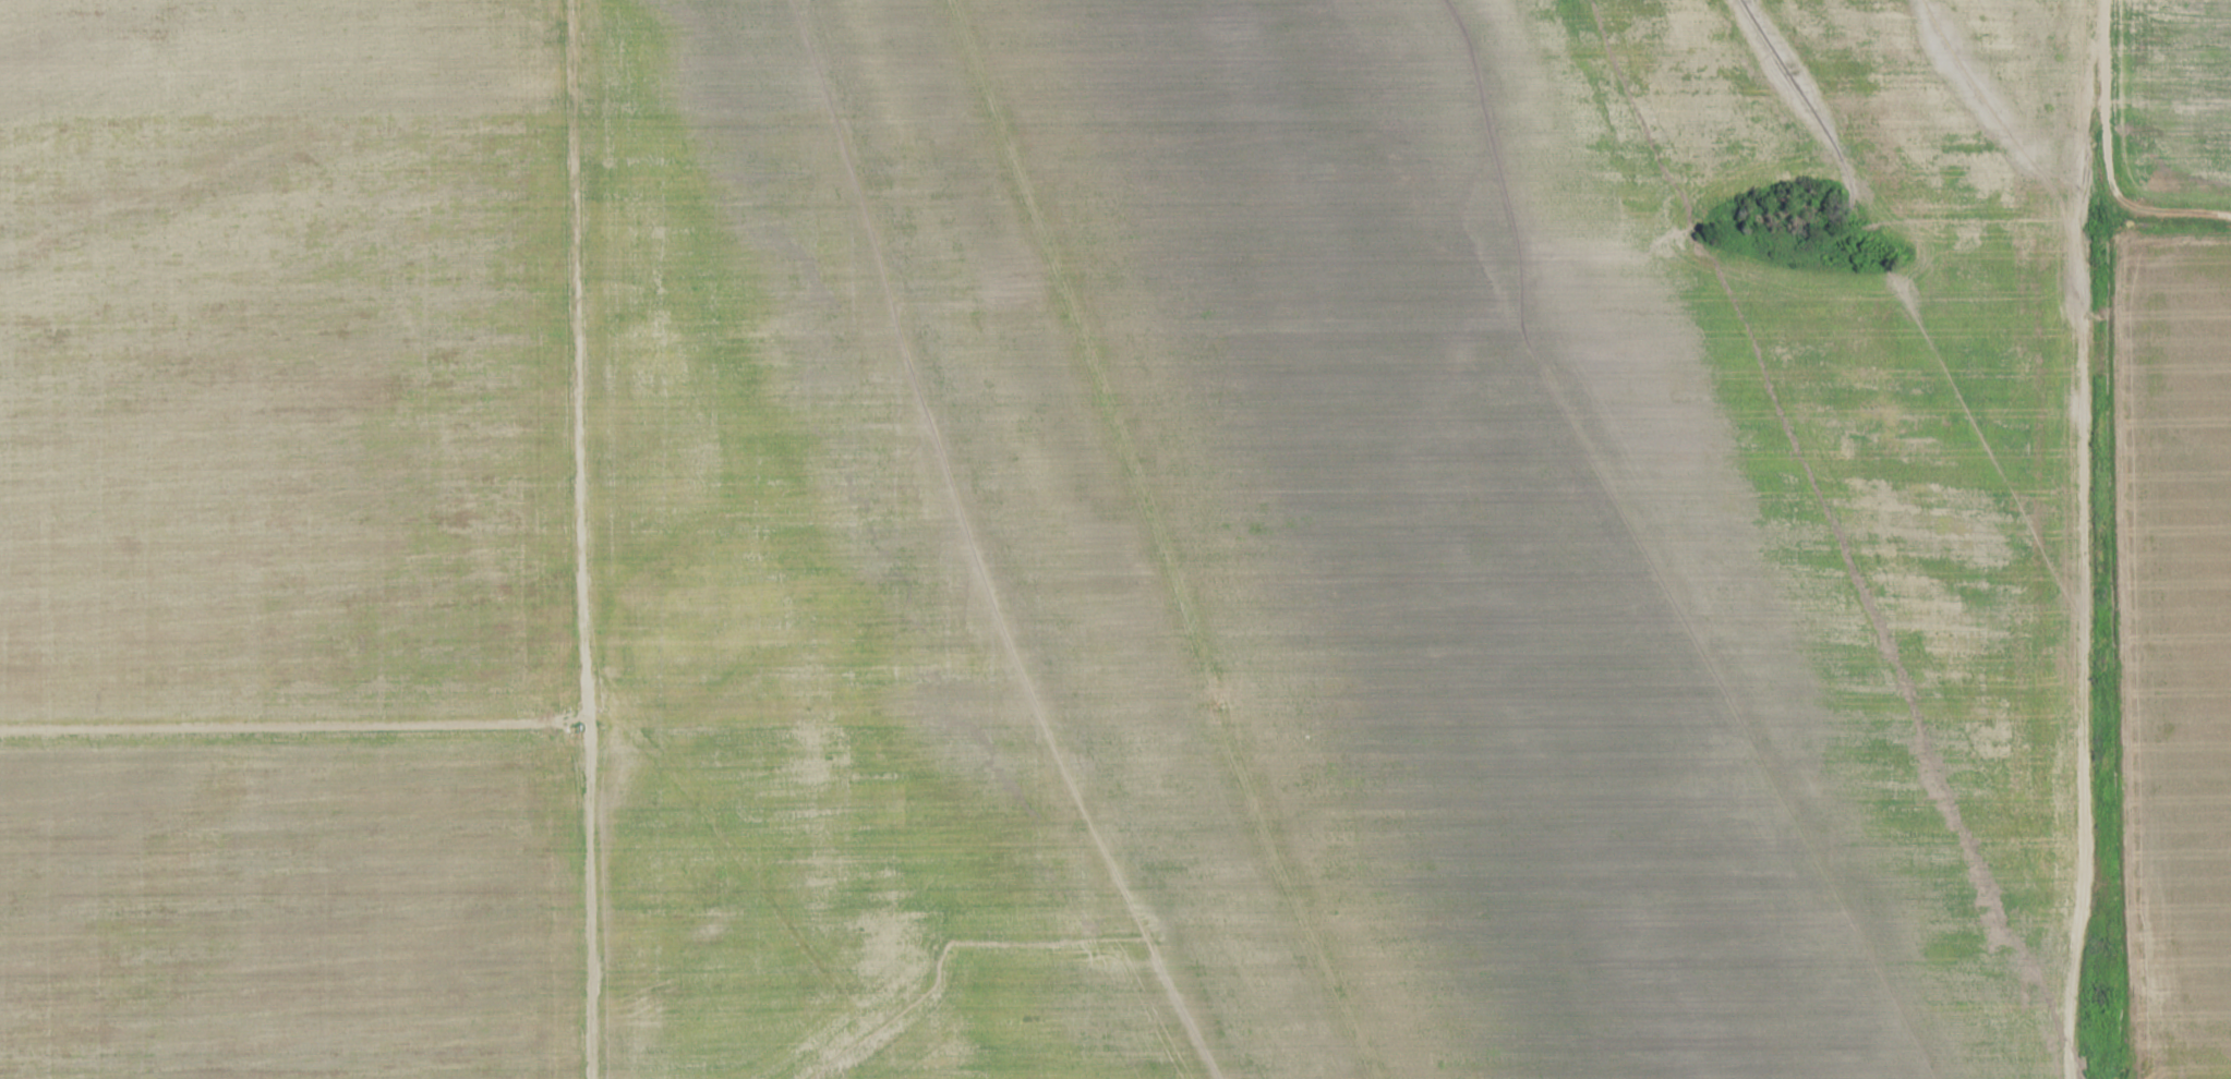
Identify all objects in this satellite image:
road: (2082, 587)

